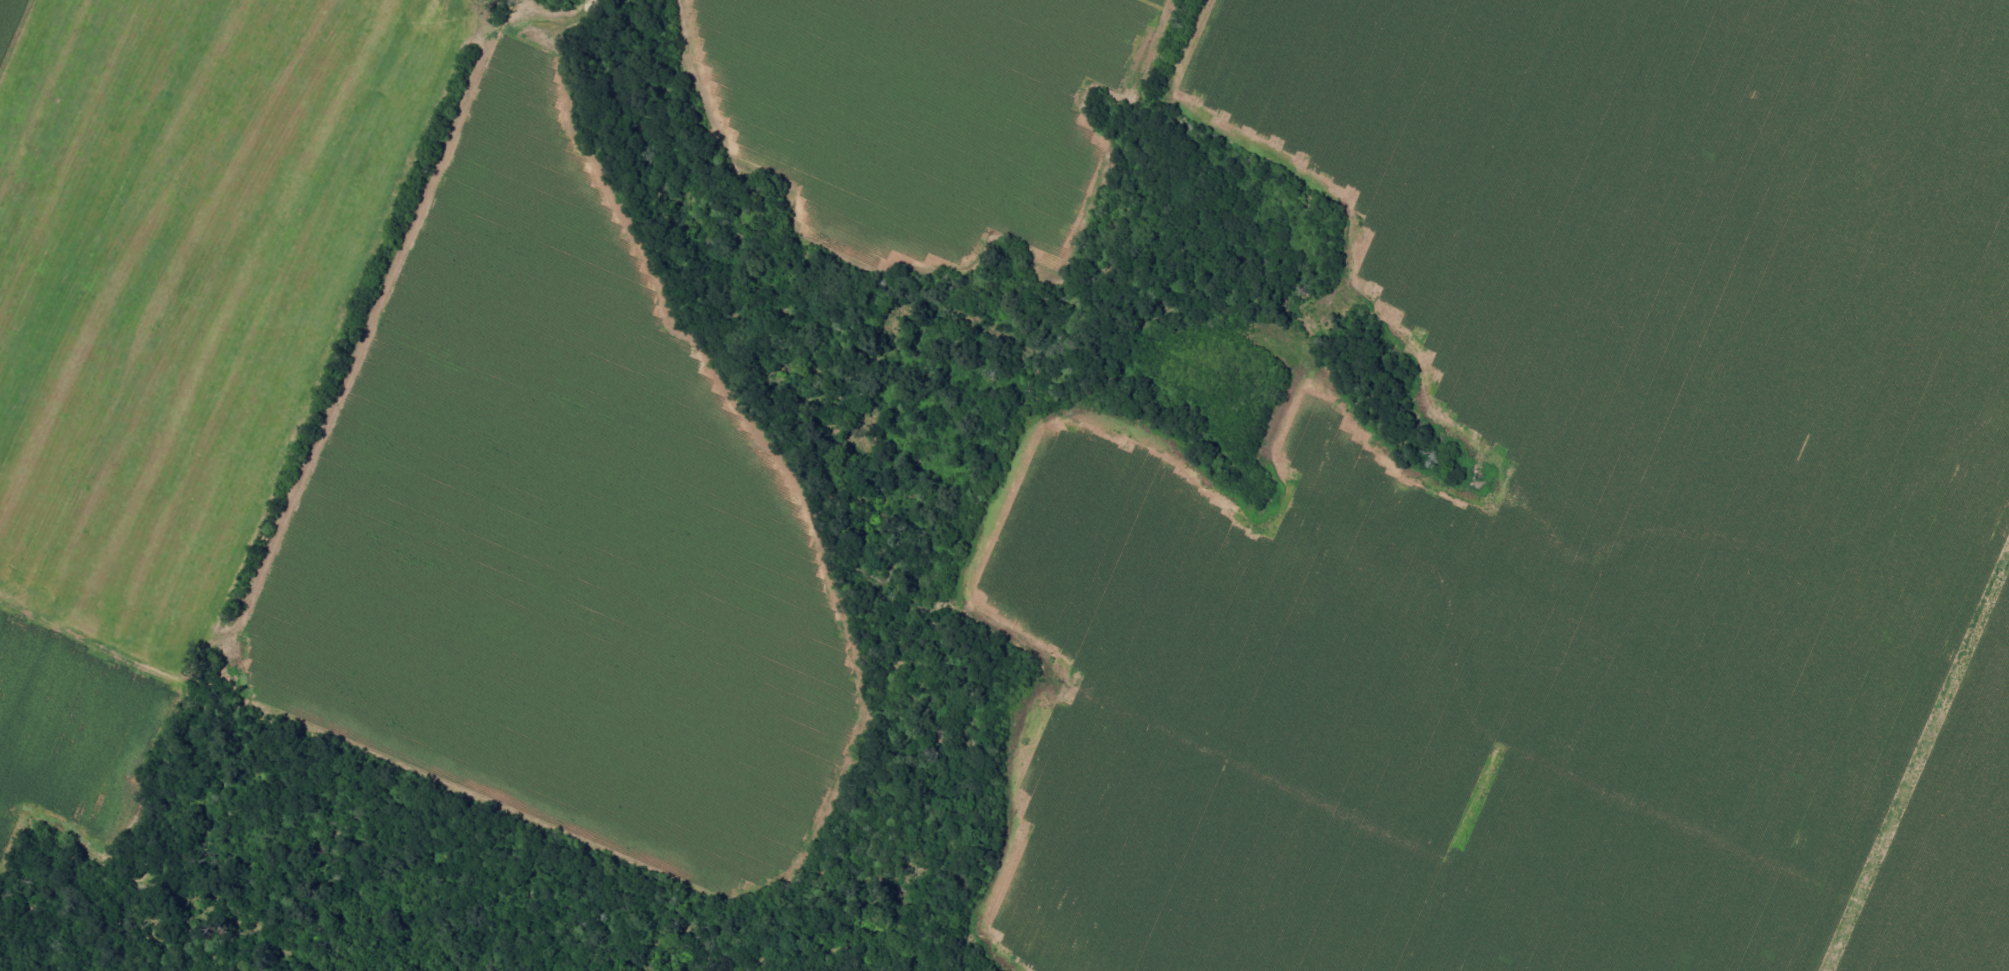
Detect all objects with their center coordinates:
road: (524, 2)
road: (14, 33)

